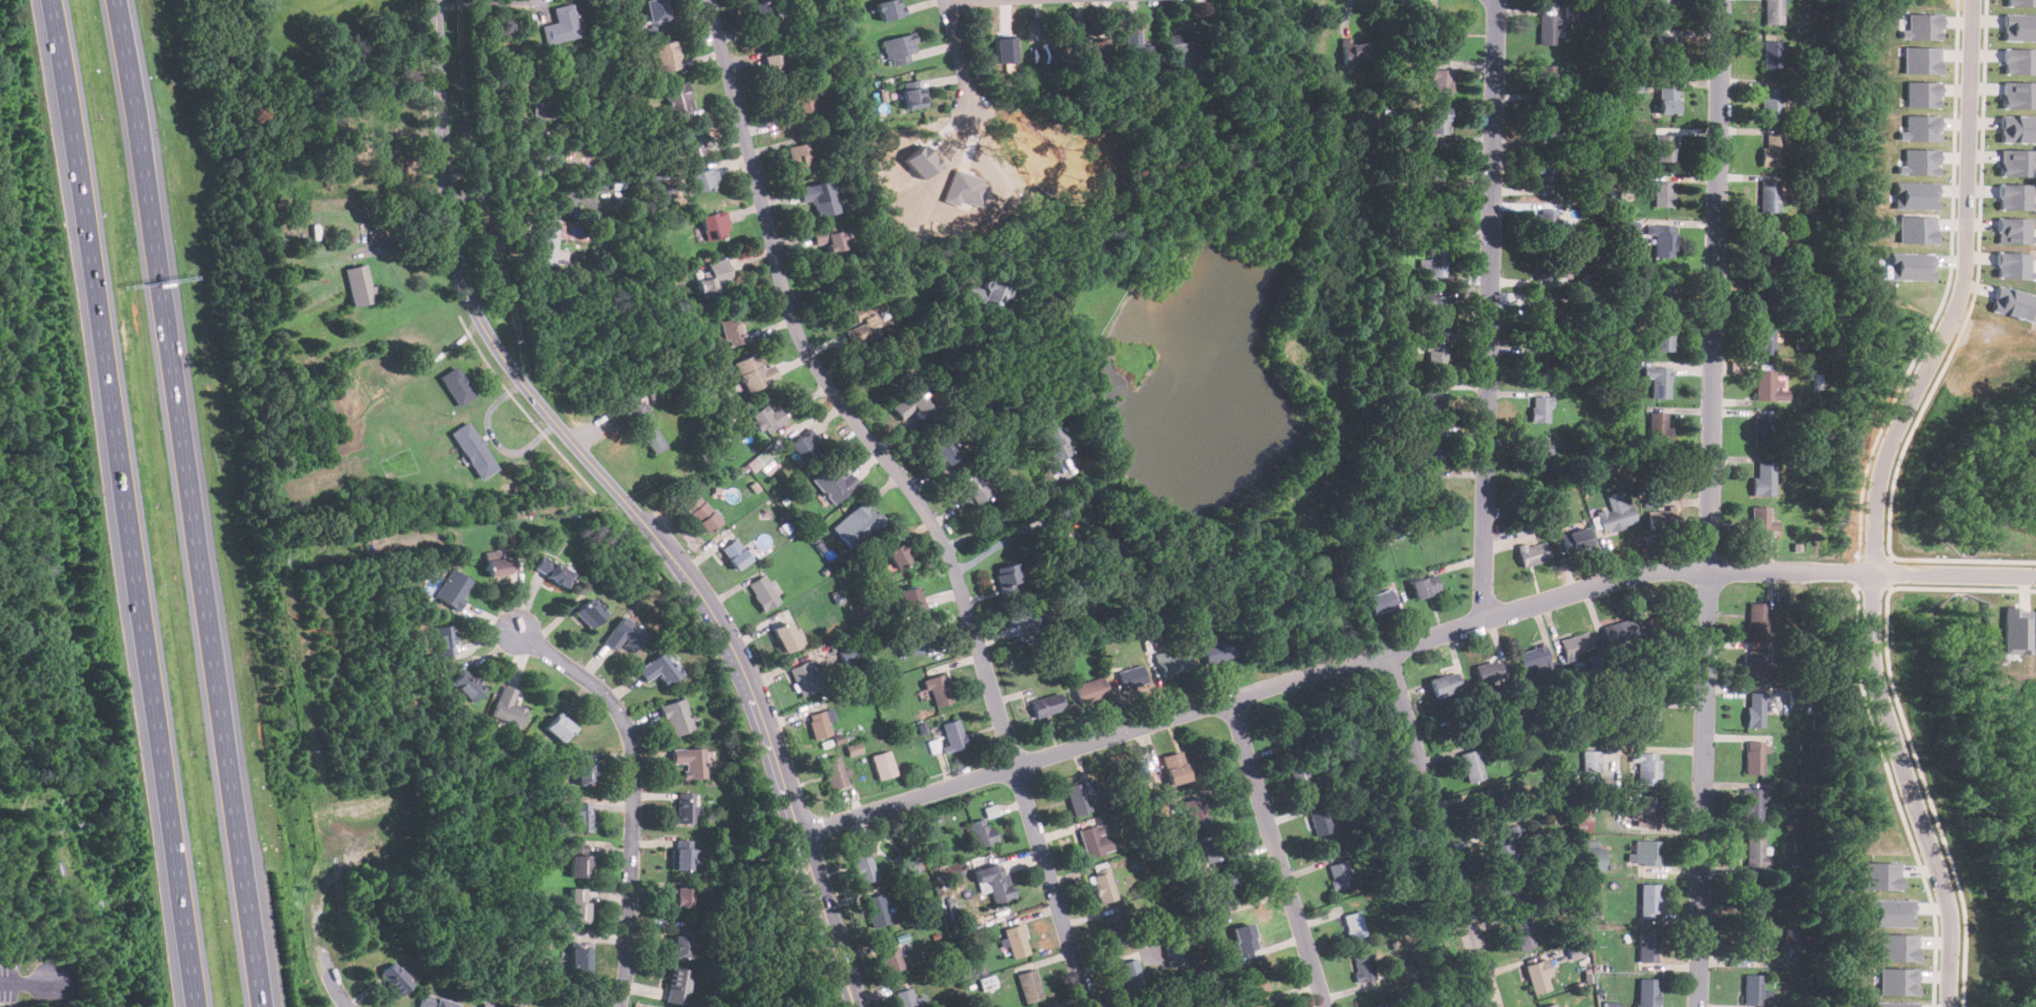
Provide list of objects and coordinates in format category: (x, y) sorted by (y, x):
road: (968, 2)
road: (484, 3)
building: (2020, 3)
building: (887, 9)
building: (1662, 10)
building: (656, 11)
building: (1573, 11)
building: (1773, 11)
building: (764, 16)
building: (561, 24)
building: (1921, 26)
building: (1548, 28)
building: (2018, 30)
building: (1449, 37)
building: (1179, 41)
building: (898, 49)
building: (1095, 50)
building: (1135, 50)
building: (1047, 52)
building: (1666, 52)
building: (1357, 53)
building: (1771, 53)
building: (665, 55)
road: (956, 55)
building: (1920, 60)
building: (2018, 60)
building: (774, 64)
building: (1548, 80)
building: (1440, 81)
building: (913, 93)
building: (1921, 93)
building: (2018, 95)
building: (678, 98)
building: (1669, 99)
building: (542, 102)
building: (1771, 102)
building: (800, 107)
building: (1439, 118)
building: (1545, 126)
building: (1918, 128)
building: (2017, 130)
building: (694, 139)
building: (1664, 147)
building: (1773, 150)
building: (801, 160)
building: (1917, 161)
building: (2017, 162)
road: (501, 176)
building: (1435, 176)
building: (1546, 176)
building: (704, 178)
building: (1663, 193)
road: (559, 194)
building: (1915, 194)
building: (1771, 195)
building: (2016, 196)
building: (819, 197)
building: (1435, 216)
building: (1547, 220)
building: (716, 224)
building: (1916, 229)
building: (2015, 230)
building: (830, 237)
building: (1663, 238)
building: (546, 240)
building: (1768, 243)
building: (1438, 260)
road: (883, 267)
building: (1908, 267)
building: (1544, 269)
building: (714, 276)
building: (359, 284)
road: (465, 288)
building: (1665, 290)
building: (1765, 290)
building: (985, 294)
road: (1959, 294)
building: (1436, 307)
road: (1488, 308)
building: (1541, 317)
building: (870, 321)
building: (730, 331)
building: (1765, 338)
building: (1662, 340)
building: (1436, 354)
building: (1540, 365)
building: (754, 372)
building: (1660, 380)
building: (1765, 384)
building: (457, 385)
building: (1434, 400)
building: (913, 403)
building: (1541, 408)
building: (766, 418)
building: (648, 426)
building: (1659, 428)
building: (1763, 431)
building: (1052, 437)
building: (806, 443)
building: (1432, 447)
building: (942, 449)
building: (474, 450)
building: (1539, 456)
building: (759, 460)
building: (1764, 478)
building: (834, 483)
building: (970, 488)
building: (1432, 489)
road: (913, 494)
building: (1552, 496)
road: (126, 503)
road: (193, 503)
road: (1707, 503)
building: (699, 509)
building: (1616, 512)
building: (1670, 515)
road: (1007, 520)
building: (1760, 521)
building: (855, 524)
building: (1577, 540)
road: (1003, 541)
building: (1533, 552)
building: (736, 553)
building: (897, 555)
building: (500, 563)
building: (553, 570)
building: (1008, 577)
building: (1426, 586)
building: (454, 588)
building: (763, 593)
building: (912, 597)
building: (1381, 600)
building: (590, 613)
building: (1018, 613)
building: (1028, 618)
building: (1757, 618)
building: (1658, 621)
building: (2035, 628)
building: (2013, 630)
building: (1619, 631)
building: (625, 634)
building: (786, 637)
building: (445, 639)
road: (1409, 639)
building: (913, 643)
building: (1576, 643)
building: (1215, 650)
building: (849, 654)
building: (1533, 658)
building: (1757, 660)
building: (1171, 662)
building: (659, 668)
building: (1490, 671)
building: (807, 677)
building: (1133, 677)
building: (468, 684)
building: (1446, 684)
building: (938, 689)
building: (1089, 690)
building: (1046, 703)
building: (1796, 706)
building: (507, 707)
building: (1758, 709)
building: (677, 717)
building: (1646, 723)
building: (819, 724)
building: (559, 728)
building: (1289, 729)
building: (954, 734)
road: (776, 748)
building: (854, 749)
building: (1755, 757)
building: (1591, 760)
building: (690, 761)
building: (883, 764)
building: (1473, 765)
building: (1647, 767)
building: (584, 768)
building: (1174, 768)
building: (834, 772)
building: (1302, 780)
road: (1909, 789)
road: (634, 792)
building: (1079, 798)
building: (1756, 805)
building: (686, 807)
building: (1487, 808)
building: (1193, 811)
building: (1646, 812)
building: (581, 817)
building: (1583, 819)
building: (1320, 822)
road: (1437, 827)
building: (982, 832)
building: (1095, 840)
building: (579, 848)
building: (1210, 848)
building: (1500, 849)
building: (1756, 851)
road: (1276, 852)
building: (1647, 853)
building: (682, 855)
building: (1592, 856)
building: (581, 865)
building: (863, 866)
building: (1339, 875)
building: (1881, 875)
road: (310, 881)
building: (995, 881)
building: (1103, 884)
building: (1511, 891)
building: (1229, 892)
building: (683, 897)
building: (1754, 897)
building: (1650, 901)
building: (580, 905)
building: (876, 910)
building: (1891, 912)
building: (1355, 925)
building: (1116, 930)
road: (388, 932)
building: (1523, 934)
building: (1792, 934)
building: (1243, 938)
building: (1755, 942)
building: (681, 943)
building: (1014, 943)
building: (1647, 947)
building: (1899, 947)
building: (1574, 950)
building: (1174, 954)
building: (580, 959)
building: (891, 959)
building: (1364, 967)
building: (1131, 975)
building: (1538, 975)
building: (395, 979)
building: (1898, 981)
road: (27, 982)
building: (678, 985)
building: (1029, 987)
building: (1257, 988)
building: (1750, 990)
building: (1648, 993)
building: (909, 999)
building: (436, 1001)
building: (489, 1004)
building: (1612, 1004)
building: (1898, 1004)
building: (476, 1005)
building: (1551, 1005)
building: (468, 1006)
building: (519, 1006)
building: (1148, 1006)
building: (1379, 1006)

